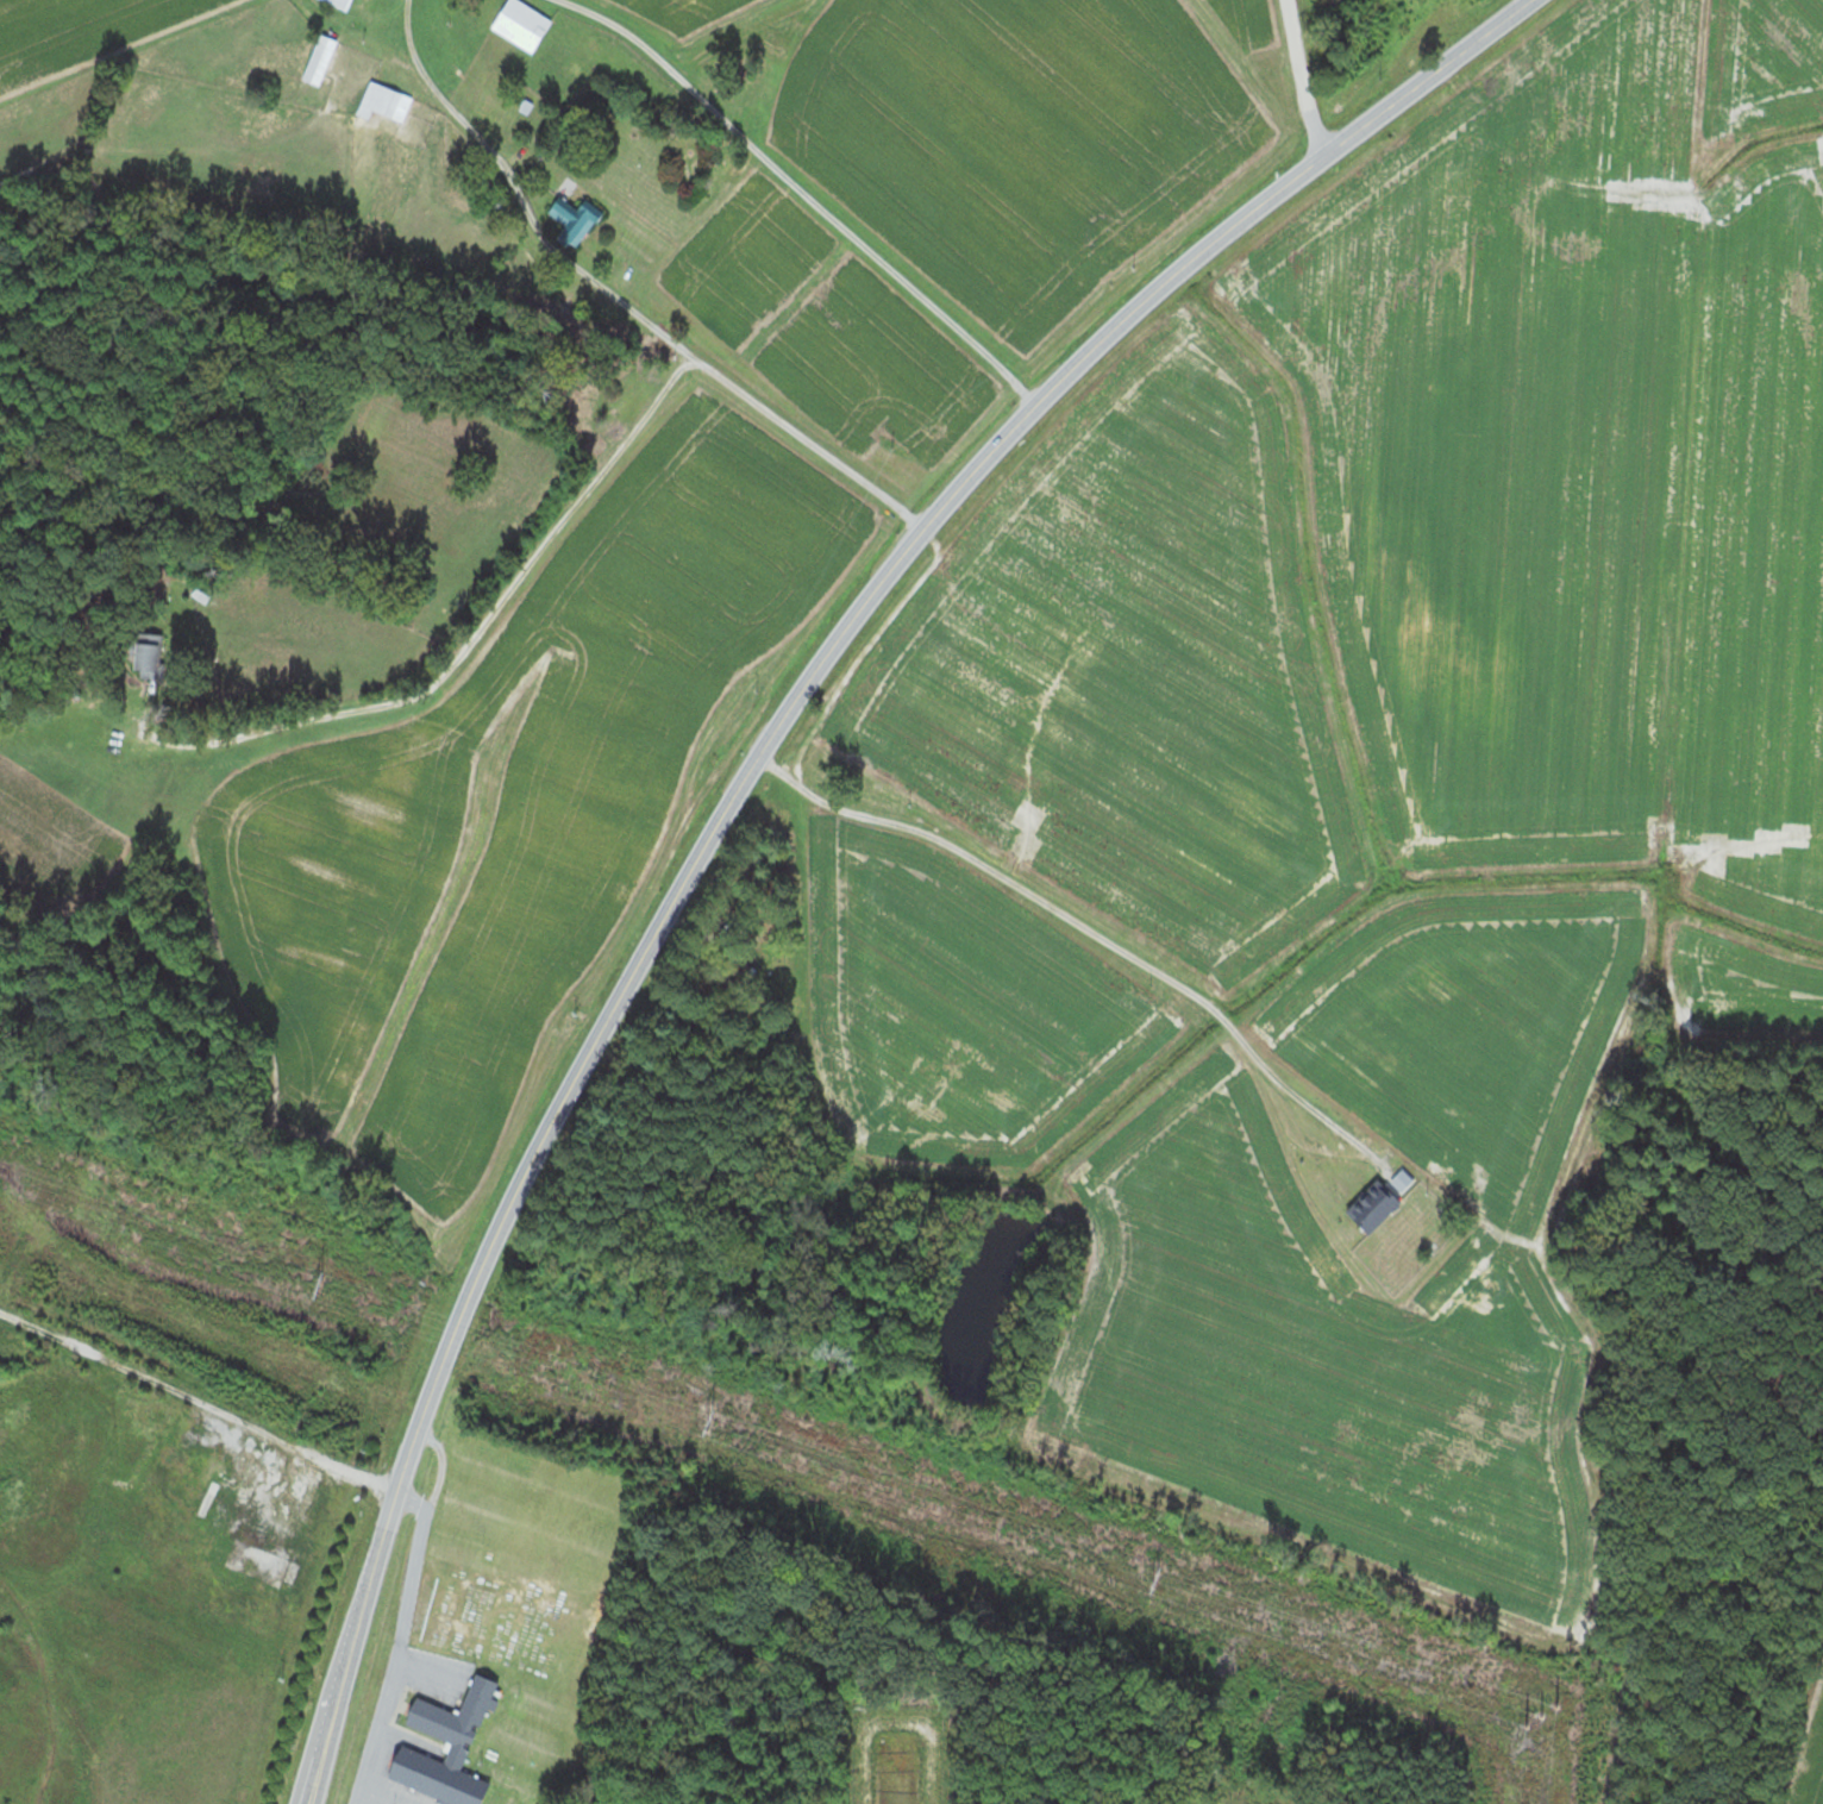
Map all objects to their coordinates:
building: (342, 4)
building: (522, 25)
building: (320, 61)
road: (1309, 77)
building: (1498, 77)
building: (386, 102)
building: (494, 115)
park: (691, 158)
road: (804, 194)
building: (576, 220)
road: (619, 300)
road: (892, 571)
road: (470, 638)
building: (149, 653)
building: (817, 769)
road: (1155, 981)
building: (1370, 1194)
road: (440, 1471)
road: (383, 1556)
road: (397, 1646)
building: (453, 1734)
road: (375, 1796)

